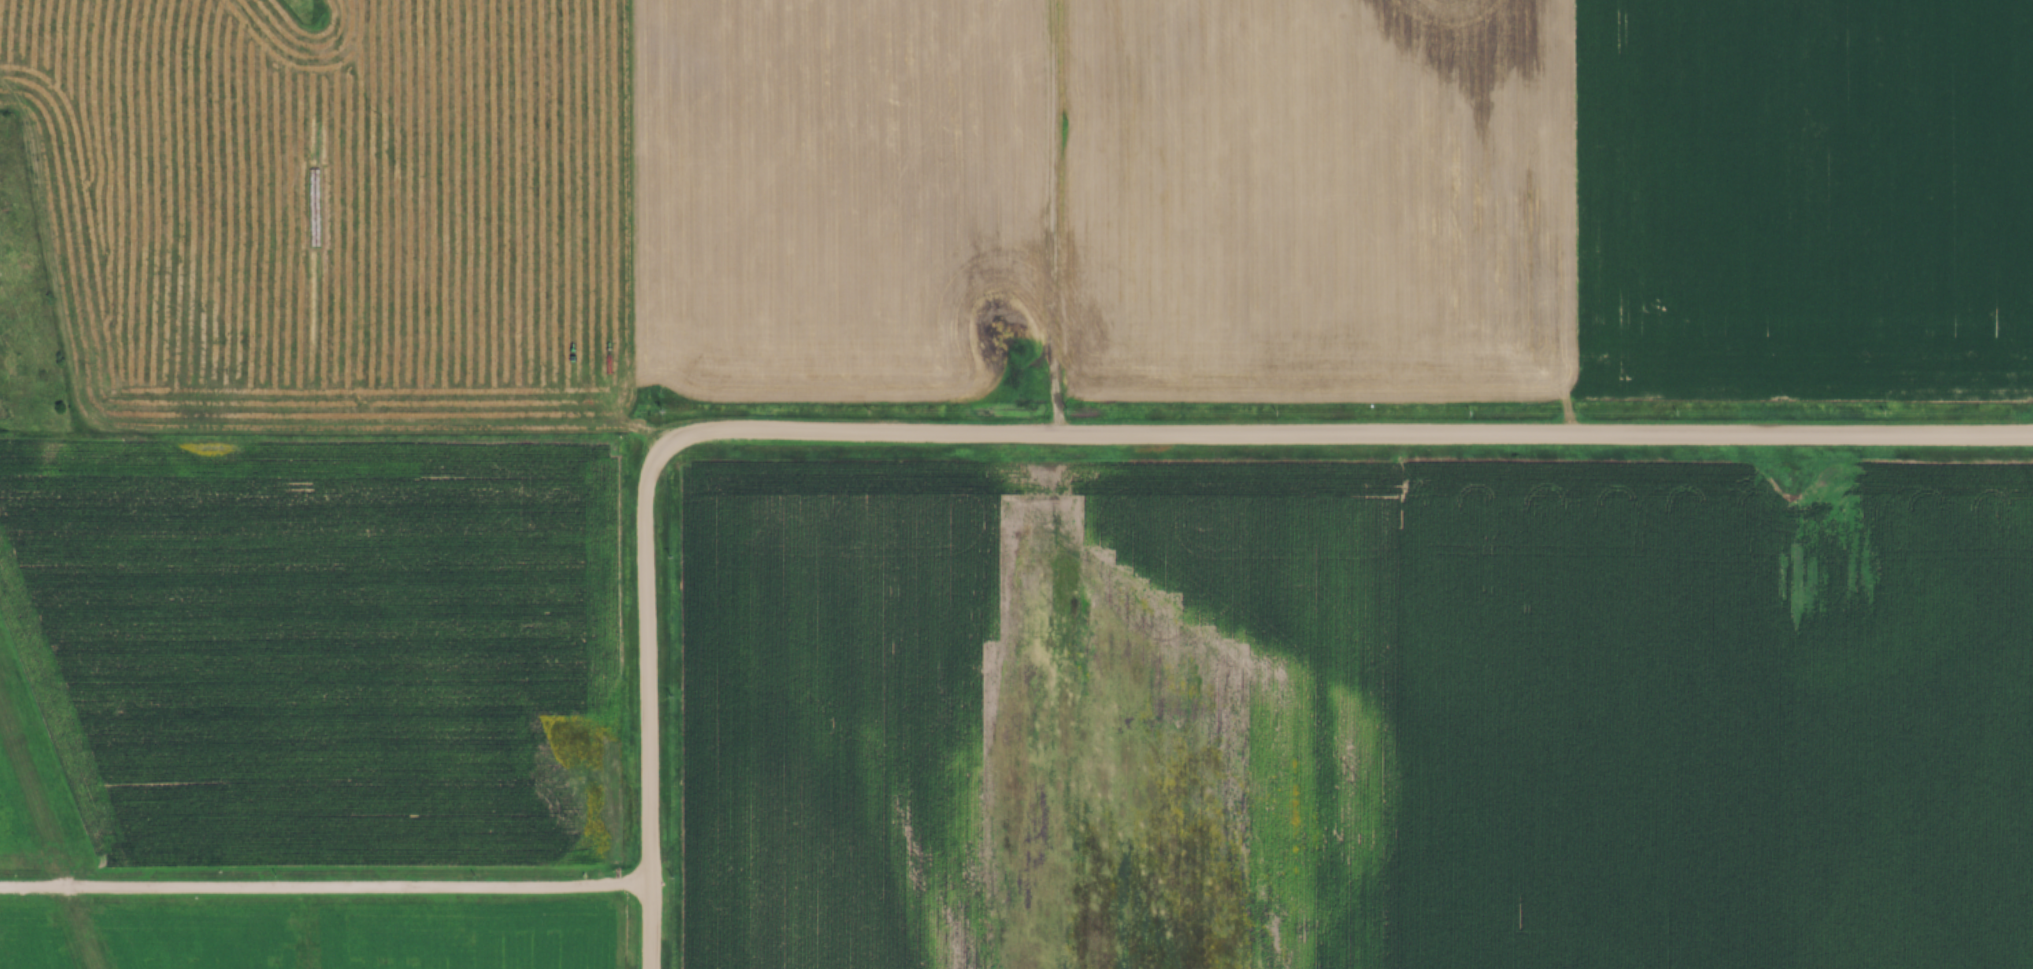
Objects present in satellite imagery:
road: (1350, 438)
road: (646, 703)
airport runway: (48, 840)
road: (324, 893)

